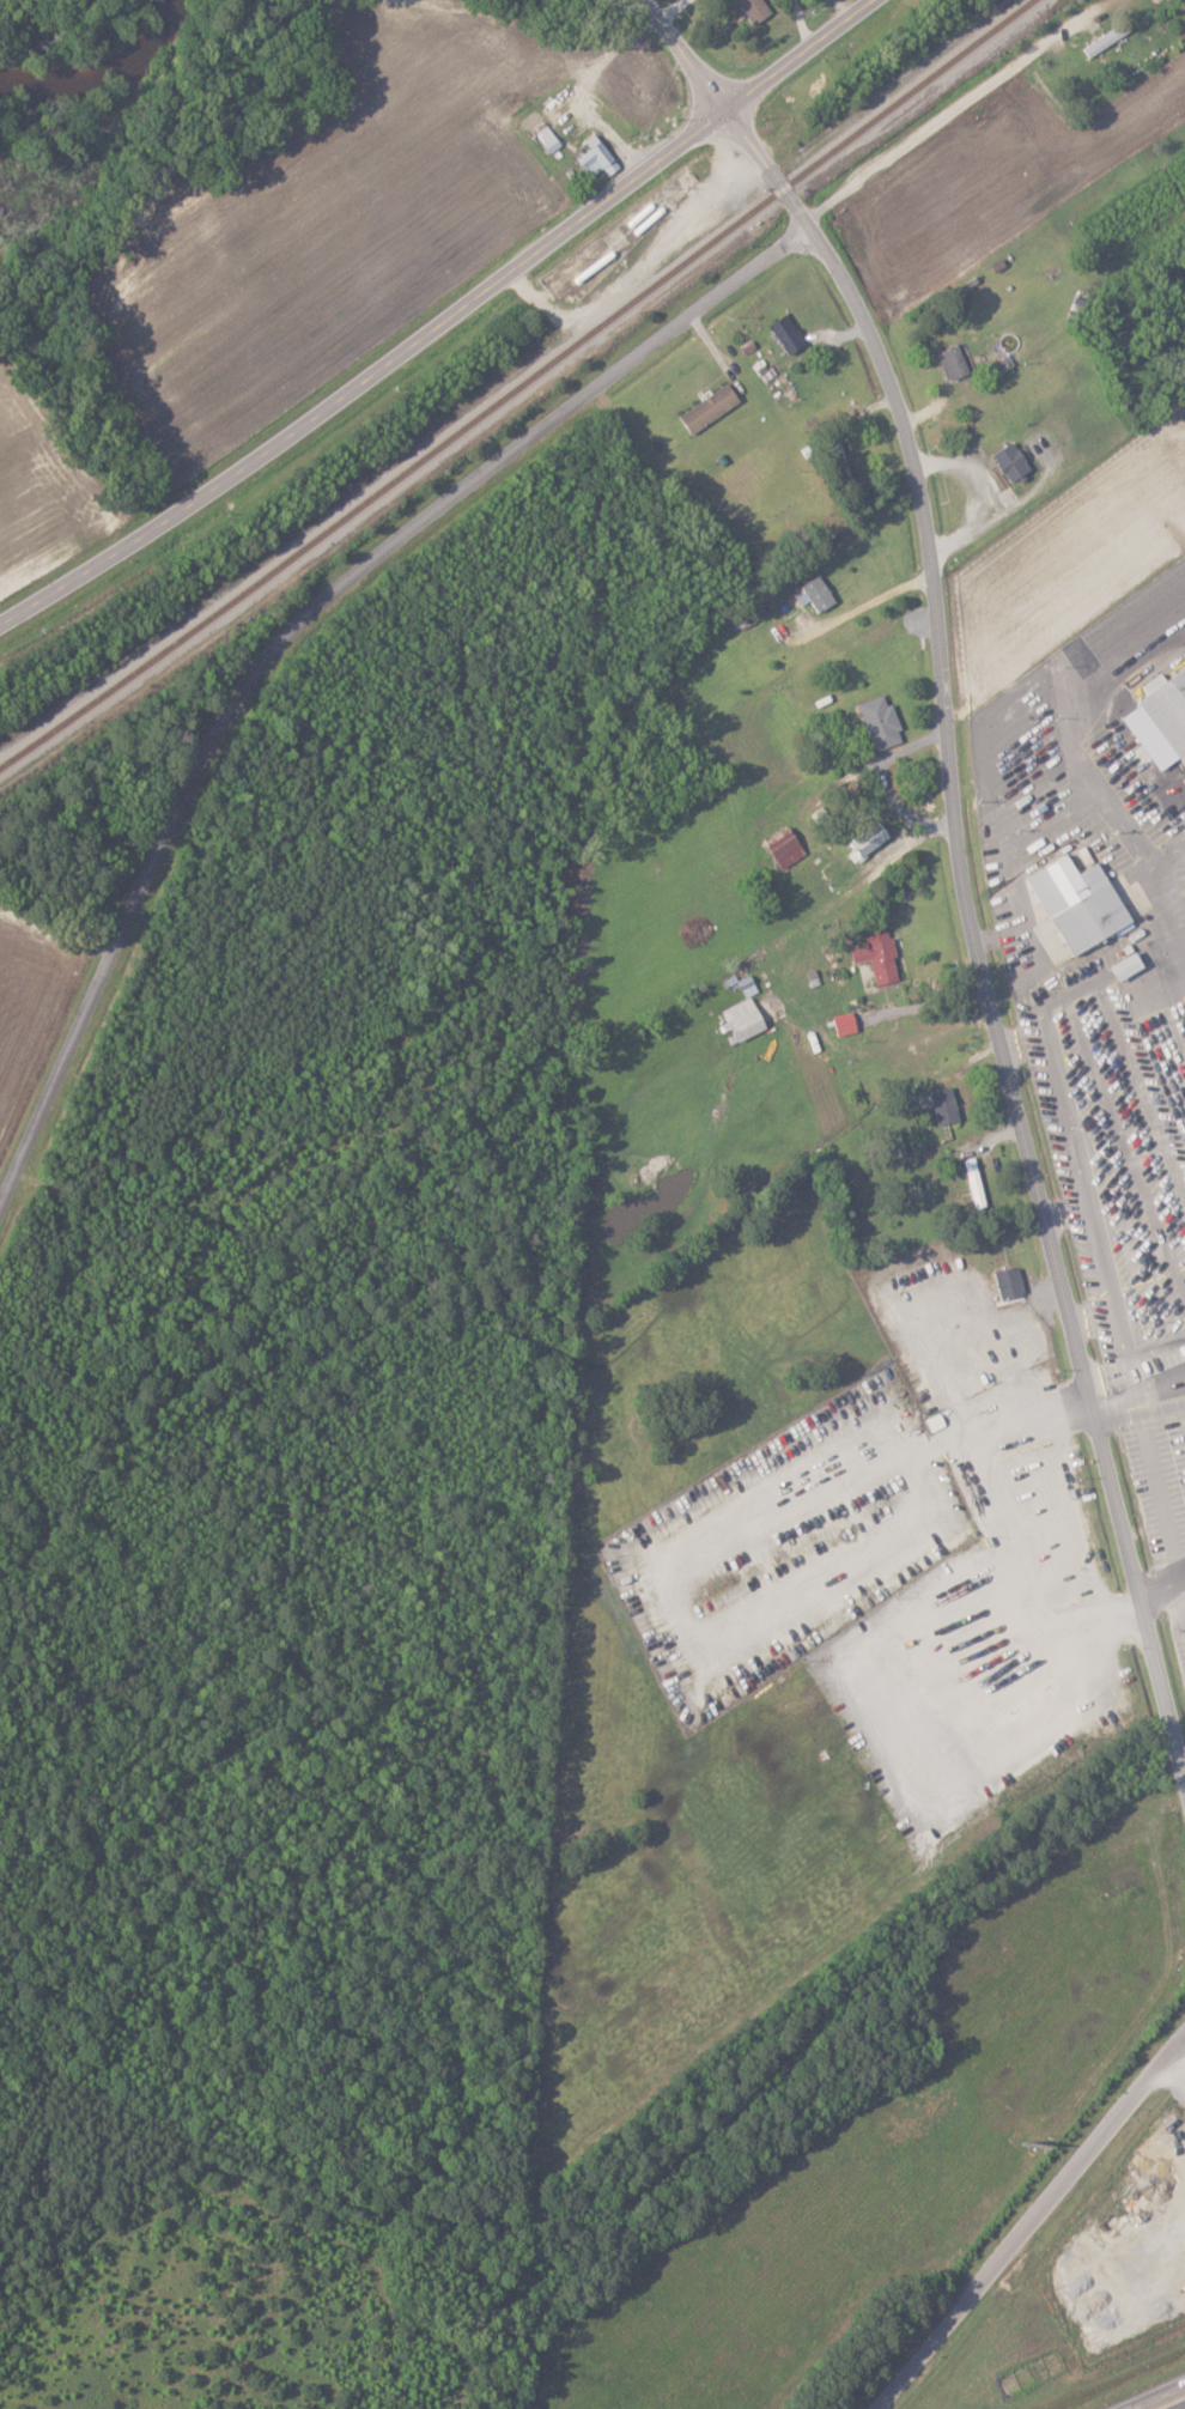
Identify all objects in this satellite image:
building: (756, 8)
road: (686, 53)
river: (105, 75)
road: (940, 128)
building: (600, 158)
road: (442, 321)
building: (789, 334)
building: (954, 363)
railway: (519, 386)
building: (711, 408)
building: (1014, 462)
road: (977, 496)
building: (821, 591)
road: (292, 631)
road: (940, 698)
building: (1168, 708)
building: (883, 721)
road: (1090, 775)
road: (1131, 835)
building: (870, 839)
building: (788, 847)
road: (1174, 899)
building: (1082, 902)
road: (989, 937)
road: (1160, 947)
building: (880, 953)
building: (1129, 965)
road: (1122, 966)
road: (1072, 989)
building: (746, 1018)
building: (847, 1023)
road: (1141, 1086)
building: (947, 1105)
road: (1125, 1140)
road: (1089, 1212)
building: (1011, 1282)
road: (1161, 1392)
road: (1119, 1407)
road: (1157, 1489)
road: (1130, 1535)
road: (1181, 1576)
road: (1172, 1580)
road: (1035, 2226)
road: (1165, 2399)

